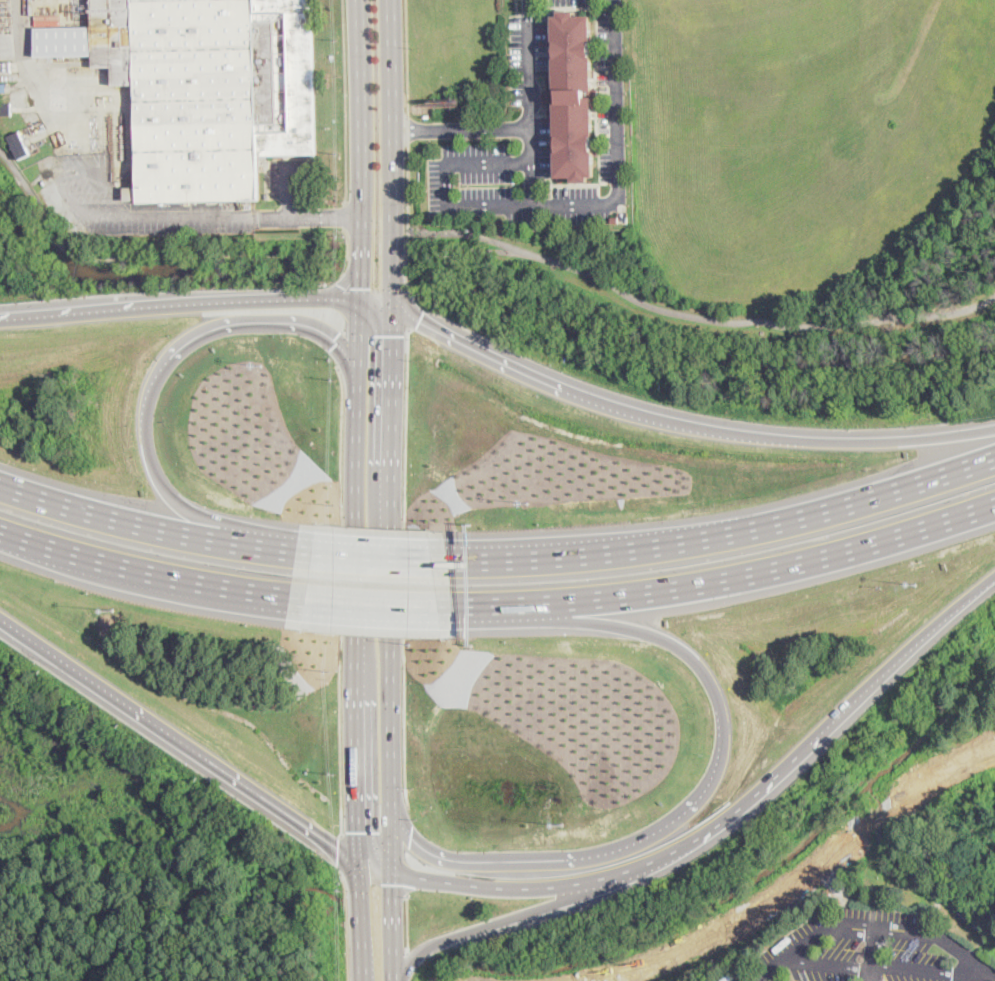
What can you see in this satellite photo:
building: (64, 40)
road: (406, 56)
road: (33, 66)
building: (5, 67)
road: (531, 81)
building: (3, 87)
building: (211, 90)
building: (573, 97)
road: (346, 102)
building: (6, 110)
road: (462, 127)
road: (408, 128)
building: (20, 145)
road: (618, 146)
road: (363, 150)
road: (394, 150)
road: (409, 187)
road: (288, 189)
road: (445, 207)
road: (97, 216)
road: (311, 217)
road: (345, 217)
building: (615, 220)
road: (467, 233)
road: (348, 250)
road: (139, 256)
road: (408, 262)
traffic signals: (362, 287)
road: (180, 303)
road: (410, 310)
road: (701, 317)
road: (376, 318)
road: (344, 319)
traffic signals: (419, 320)
traffic signals: (392, 335)
road: (359, 339)
traffic signals: (336, 342)
road: (151, 390)
road: (681, 422)
road: (155, 527)
road: (720, 532)
road: (376, 555)
road: (404, 567)
road: (149, 569)
road: (729, 569)
road: (391, 585)
road: (341, 598)
road: (379, 601)
road: (356, 623)
road: (702, 666)
road: (181, 741)
road: (730, 815)
traffic signals: (359, 830)
traffic signals: (412, 834)
traffic signals: (338, 848)
road: (407, 850)
road: (374, 851)
road: (341, 852)
road: (483, 857)
traffic signals: (392, 884)
road: (517, 918)
road: (407, 923)
road: (360, 924)
road: (833, 924)
road: (347, 926)
road: (393, 926)
parking lot: (867, 950)
road: (966, 953)
road: (875, 954)
road: (827, 964)
road: (408, 967)
road: (934, 972)

